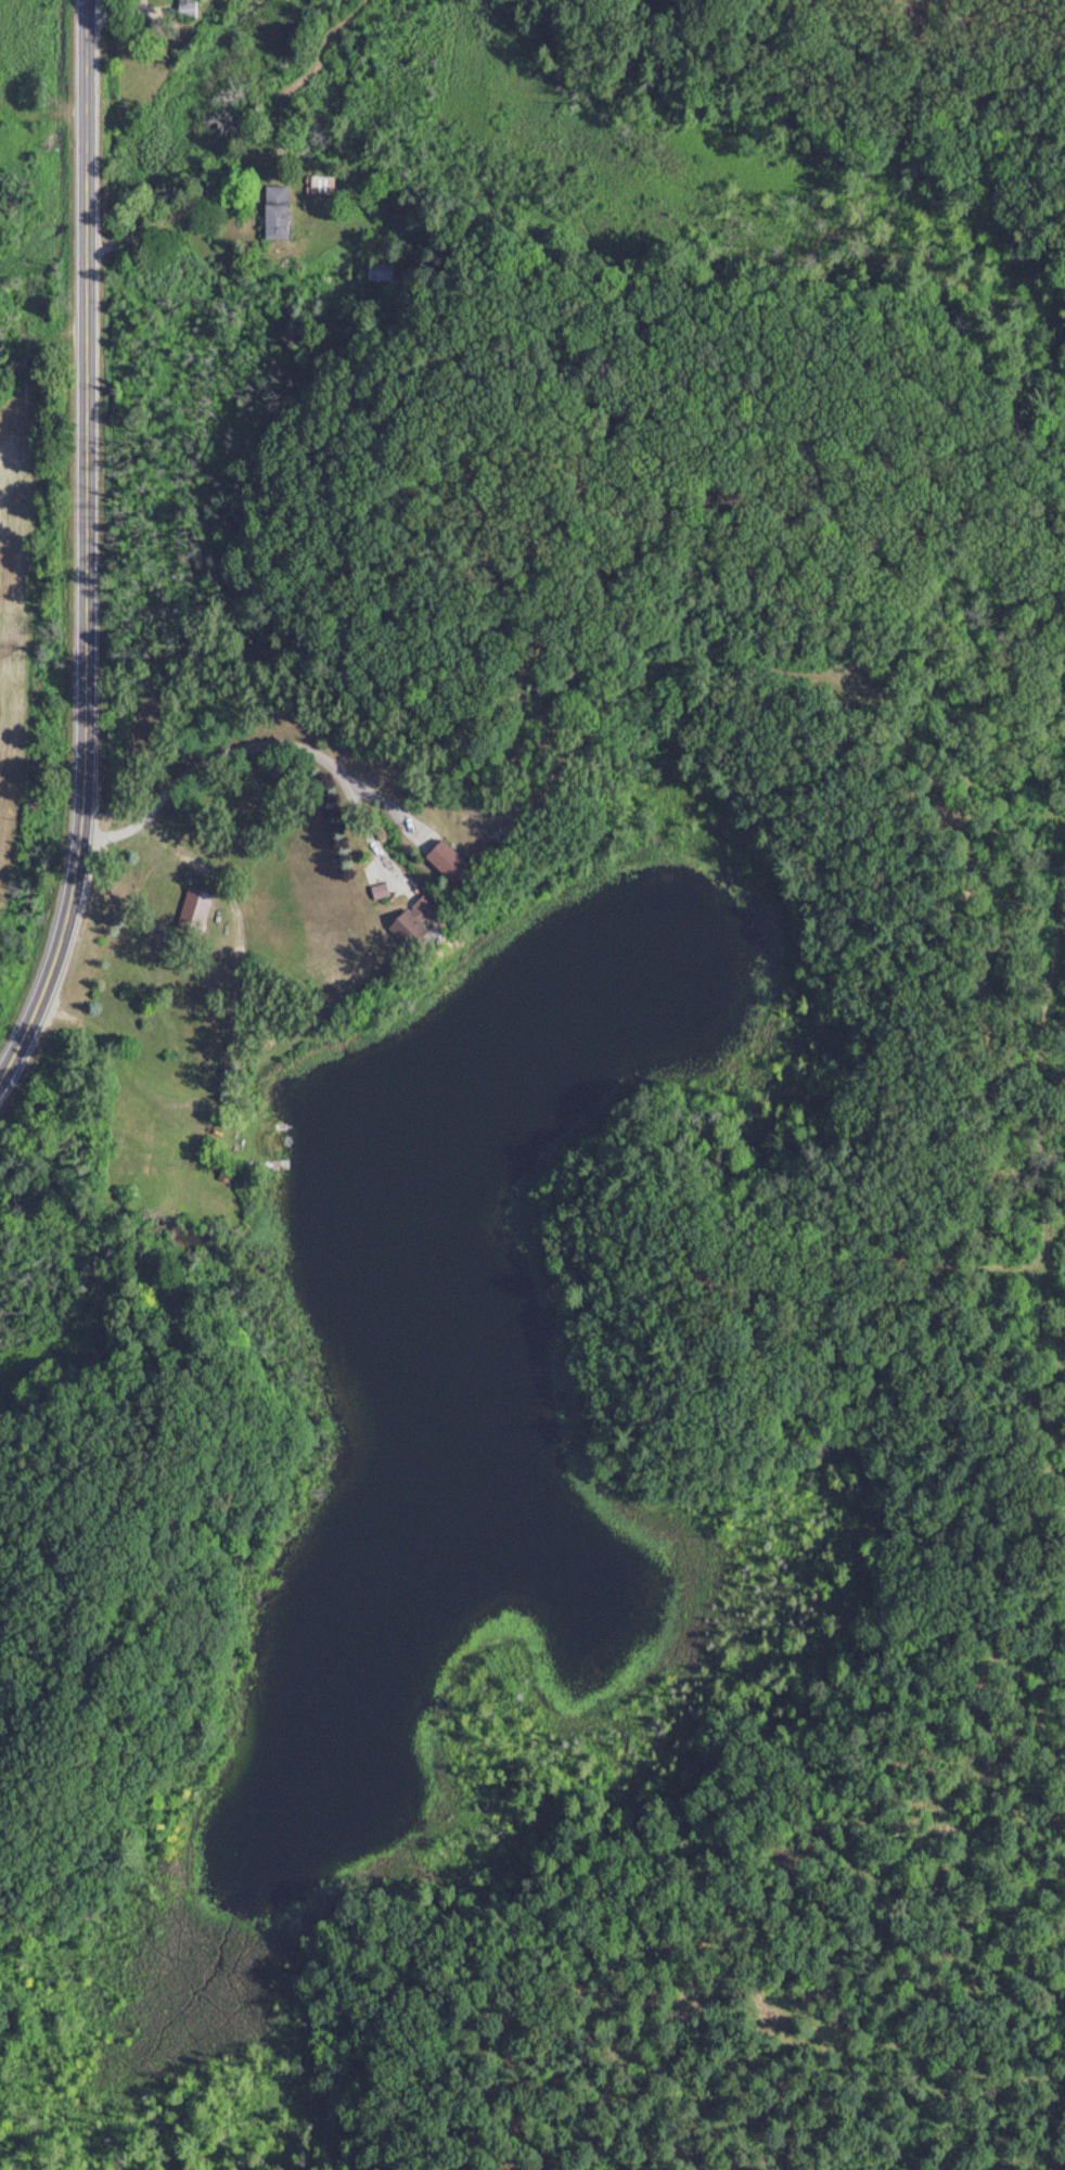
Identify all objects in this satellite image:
building: (185, 8)
road: (86, 92)
building: (321, 184)
building: (275, 212)
road: (165, 220)
building: (378, 272)
road: (86, 646)
road: (269, 730)
building: (442, 861)
building: (376, 891)
building: (194, 909)
building: (411, 919)

